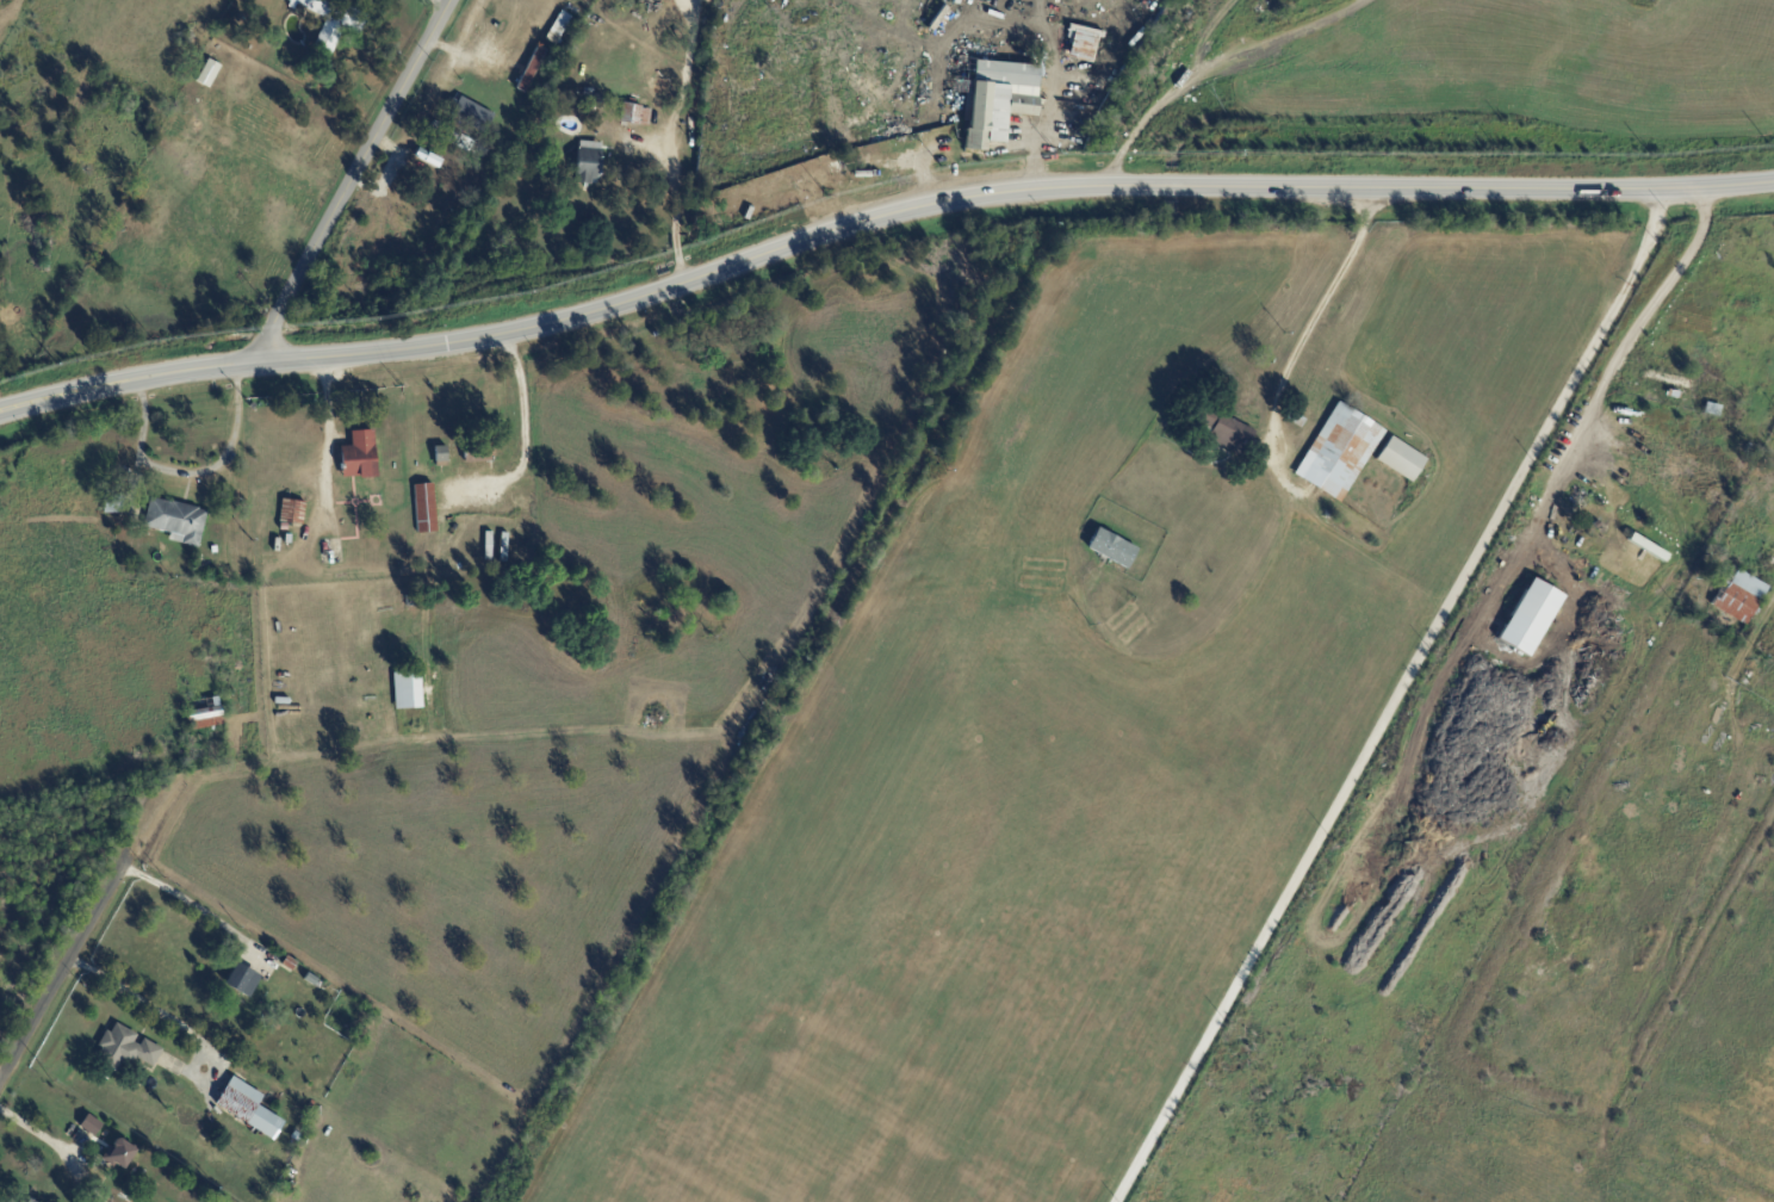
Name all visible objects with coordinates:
building: (247, 1)
road: (442, 4)
road: (1037, 13)
building: (330, 20)
building: (557, 27)
road: (466, 43)
road: (1199, 66)
building: (528, 69)
building: (209, 74)
building: (595, 99)
building: (993, 101)
road: (1052, 105)
building: (471, 114)
building: (634, 116)
road: (830, 131)
building: (446, 134)
building: (480, 151)
building: (585, 162)
building: (833, 172)
road: (354, 180)
road: (674, 199)
road: (876, 219)
building: (414, 234)
road: (1308, 334)
road: (1626, 360)
building: (1669, 382)
building: (1712, 410)
building: (1295, 420)
road: (523, 426)
building: (1220, 428)
road: (323, 438)
building: (477, 452)
building: (1339, 453)
building: (440, 457)
building: (361, 458)
building: (1400, 460)
road: (191, 475)
building: (1759, 498)
building: (116, 506)
building: (420, 509)
building: (293, 514)
building: (179, 522)
building: (1595, 522)
building: (1655, 539)
building: (484, 546)
building: (500, 550)
building: (1111, 550)
building: (201, 568)
building: (1737, 596)
building: (1528, 617)
building: (407, 689)
building: (207, 713)
road: (190, 904)
road: (86, 943)
building: (291, 964)
building: (244, 979)
road: (153, 1009)
building: (128, 1049)
building: (249, 1109)
building: (92, 1126)
building: (298, 1136)
building: (123, 1154)
building: (31, 1201)

